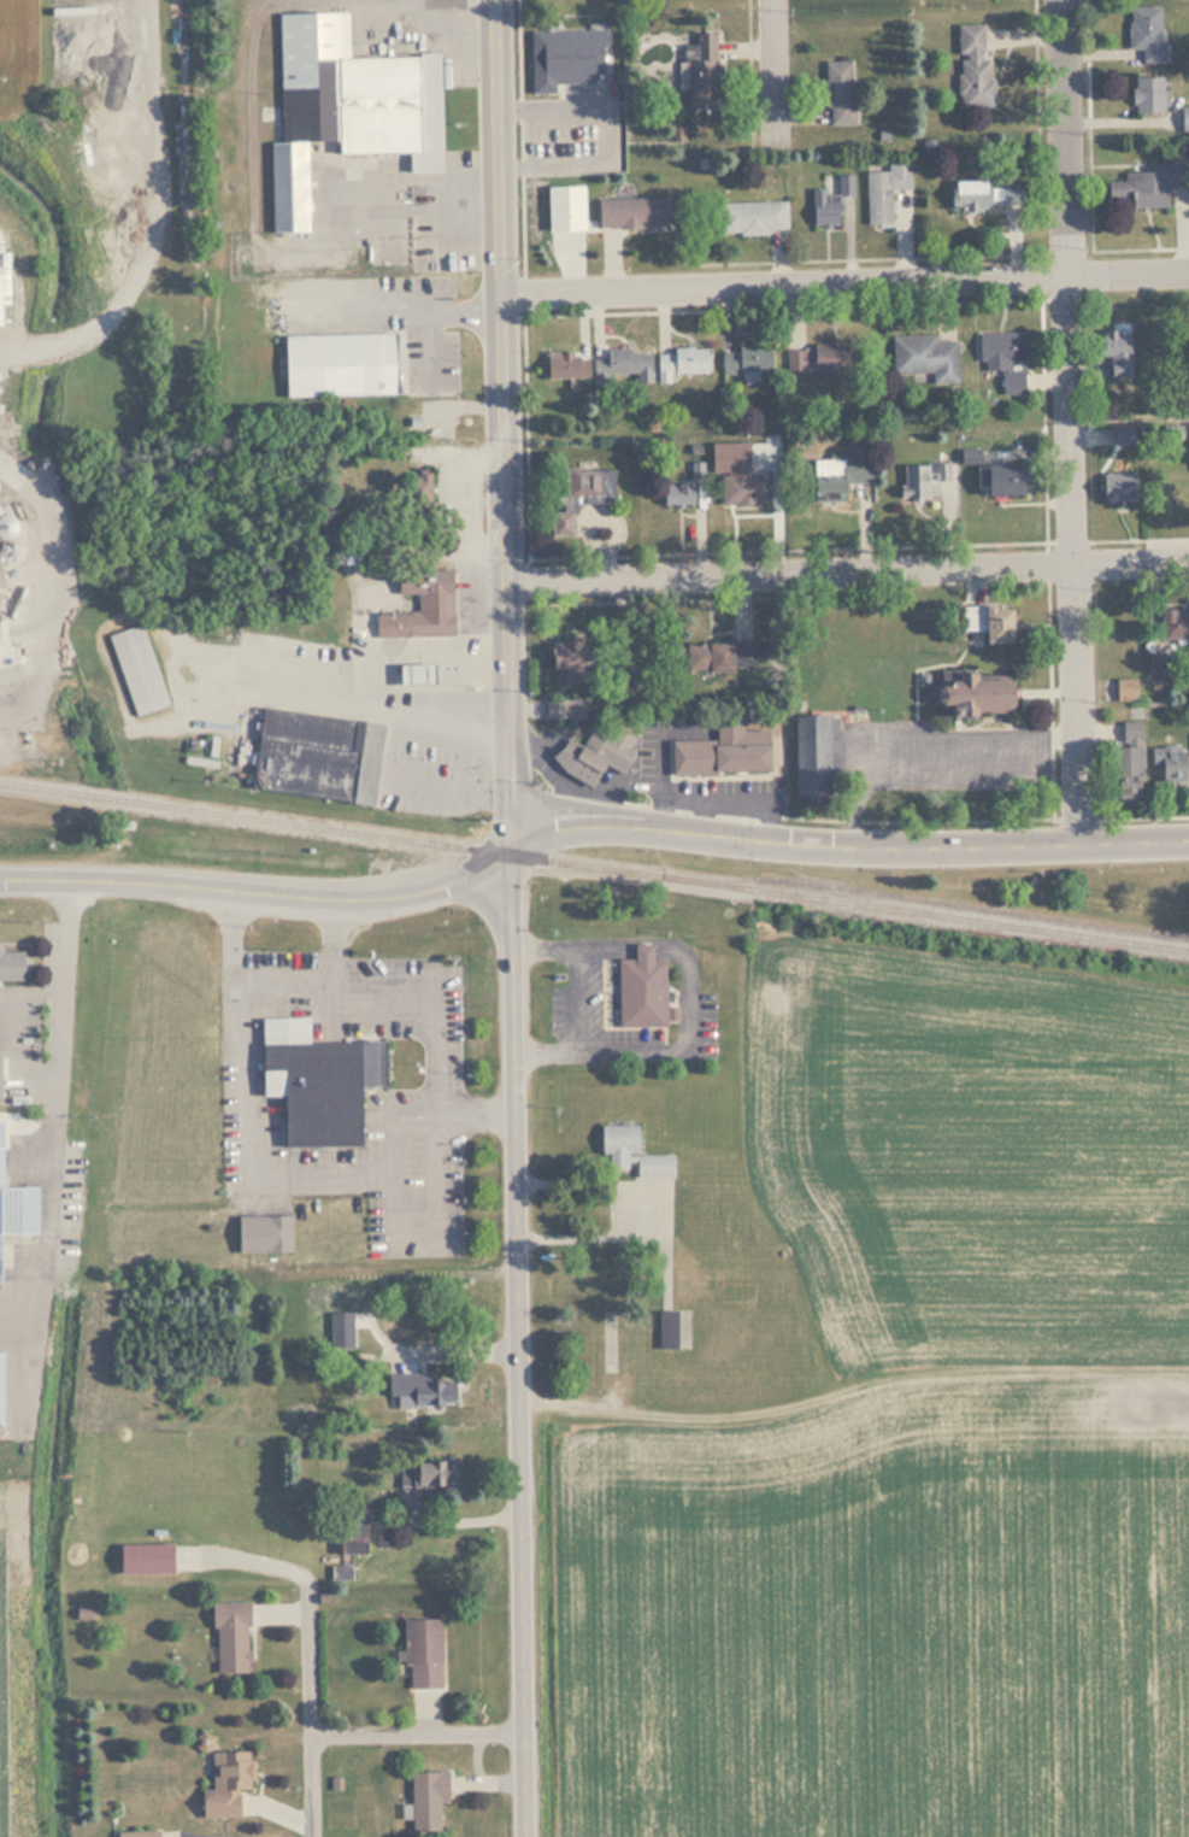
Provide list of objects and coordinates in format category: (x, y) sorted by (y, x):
building: (1143, 35)
building: (571, 55)
road: (1036, 64)
building: (971, 65)
road: (772, 74)
building: (700, 75)
road: (749, 75)
road: (153, 84)
road: (241, 86)
building: (363, 90)
building: (837, 93)
building: (1146, 96)
building: (1183, 119)
road: (1089, 125)
parking lot: (575, 137)
building: (1144, 187)
building: (286, 188)
building: (882, 192)
building: (978, 194)
building: (828, 203)
building: (628, 213)
building: (751, 218)
road: (294, 247)
road: (938, 257)
road: (523, 280)
road: (844, 283)
road: (398, 307)
road: (787, 309)
road: (432, 350)
building: (1114, 352)
building: (1182, 354)
building: (924, 357)
building: (829, 358)
building: (1002, 359)
building: (743, 360)
building: (677, 363)
building: (336, 365)
building: (596, 366)
road: (1071, 422)
road: (501, 427)
building: (1187, 442)
building: (834, 479)
building: (919, 479)
building: (996, 481)
building: (738, 485)
building: (1116, 489)
building: (416, 491)
building: (676, 495)
building: (578, 497)
building: (1173, 497)
building: (4, 528)
silo: (4, 528)
road: (858, 548)
road: (1046, 556)
road: (846, 571)
road: (1170, 583)
road: (644, 600)
road: (743, 605)
building: (418, 606)
building: (984, 622)
building: (1173, 624)
building: (707, 657)
building: (742, 657)
building: (565, 661)
building: (135, 670)
building: (411, 675)
road: (365, 683)
building: (1124, 689)
building: (969, 694)
building: (563, 709)
building: (590, 755)
building: (808, 755)
building: (718, 756)
building: (312, 757)
building: (1125, 763)
building: (1165, 765)
road: (984, 820)
railway: (336, 829)
road: (847, 851)
road: (259, 892)
railway: (931, 903)
railway: (930, 916)
building: (10, 964)
building: (640, 990)
building: (317, 1088)
building: (628, 1154)
building: (16, 1210)
building: (259, 1236)
building: (330, 1307)
building: (665, 1330)
road: (517, 1345)
building: (419, 1390)
building: (424, 1473)
building: (352, 1526)
building: (142, 1559)
building: (341, 1572)
building: (320, 1598)
building: (228, 1637)
road: (311, 1647)
building: (419, 1653)
road: (418, 1735)
building: (224, 1784)
building: (423, 1801)
building: (134, 1833)

